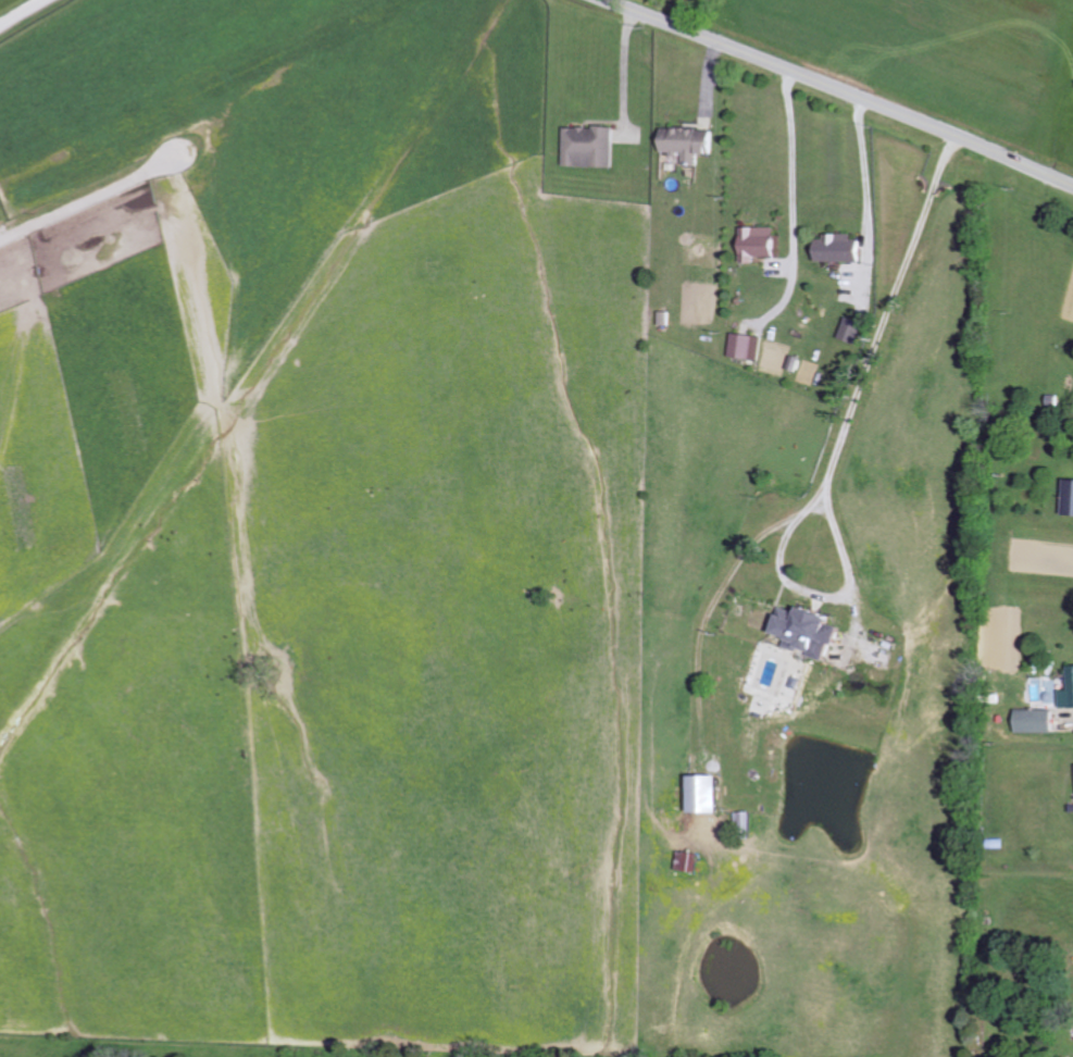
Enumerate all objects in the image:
road: (23, 13)
road: (840, 90)
building: (690, 142)
building: (591, 147)
building: (760, 244)
building: (840, 248)
building: (747, 347)
road: (850, 385)
building: (1070, 499)
building: (811, 632)
building: (1068, 695)
building: (1038, 721)
building: (708, 795)
building: (690, 862)

